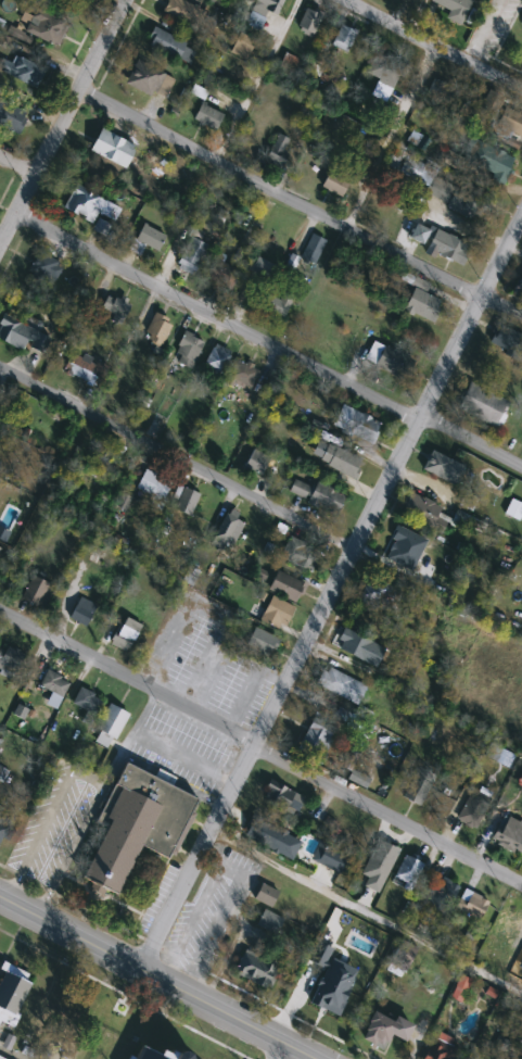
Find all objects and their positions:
building: (268, 5)
building: (455, 9)
building: (190, 16)
building: (521, 16)
parking lot: (500, 21)
building: (309, 22)
building: (46, 27)
road: (480, 29)
building: (344, 38)
road: (436, 45)
building: (171, 46)
building: (242, 46)
road: (264, 54)
building: (386, 70)
building: (26, 73)
building: (150, 80)
building: (440, 91)
building: (13, 113)
building: (208, 117)
road: (63, 122)
building: (510, 122)
road: (391, 135)
building: (112, 149)
building: (279, 150)
building: (489, 162)
road: (17, 165)
building: (340, 178)
building: (449, 191)
road: (300, 203)
building: (84, 204)
building: (101, 227)
building: (420, 234)
building: (148, 240)
building: (448, 248)
building: (313, 250)
building: (192, 256)
building: (44, 270)
building: (222, 275)
building: (519, 288)
building: (423, 305)
building: (111, 314)
building: (157, 330)
building: (22, 336)
building: (506, 339)
road: (267, 344)
building: (188, 351)
building: (217, 360)
building: (390, 361)
building: (85, 369)
building: (243, 376)
building: (1, 391)
building: (482, 405)
building: (359, 427)
building: (102, 454)
road: (176, 459)
building: (256, 461)
building: (340, 461)
building: (443, 468)
building: (153, 486)
building: (300, 489)
building: (326, 499)
building: (187, 501)
building: (420, 510)
building: (514, 510)
building: (229, 530)
building: (300, 555)
building: (287, 587)
road: (334, 587)
building: (36, 592)
building: (379, 597)
building: (82, 613)
building: (277, 614)
building: (126, 634)
building: (264, 638)
building: (359, 647)
building: (10, 659)
building: (341, 685)
building: (53, 688)
building: (87, 701)
building: (110, 727)
building: (0, 740)
building: (317, 741)
road: (260, 748)
road: (87, 773)
building: (419, 786)
building: (473, 809)
road: (237, 817)
building: (4, 822)
building: (137, 824)
building: (509, 828)
building: (264, 834)
building: (408, 870)
building: (266, 895)
building: (440, 895)
building: (472, 905)
road: (211, 906)
road: (364, 910)
building: (502, 931)
building: (402, 956)
building: (257, 970)
road: (162, 975)
building: (11, 988)
building: (323, 1000)
building: (75, 1008)
building: (384, 1031)
building: (140, 1041)
road: (277, 1048)
building: (442, 1048)
building: (158, 1054)
building: (2, 1057)

